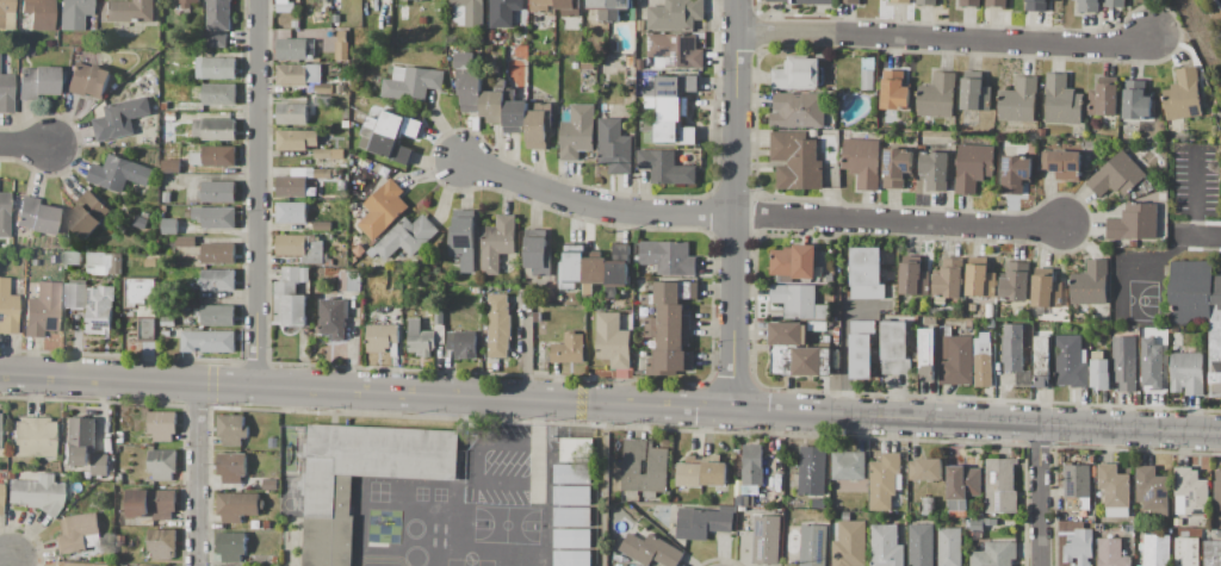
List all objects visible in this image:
building: (805, 1)
building: (850, 1)
building: (900, 1)
building: (926, 2)
building: (971, 2)
building: (997, 2)
building: (186, 4)
building: (1115, 4)
building: (1036, 5)
building: (285, 6)
building: (337, 6)
building: (544, 6)
building: (1089, 6)
building: (569, 7)
building: (601, 8)
building: (618, 8)
building: (5, 10)
building: (125, 11)
building: (401, 12)
building: (503, 12)
building: (39, 13)
building: (74, 13)
building: (467, 13)
building: (676, 14)
building: (422, 19)
building: (218, 21)
building: (296, 24)
building: (640, 25)
road: (946, 41)
building: (292, 49)
building: (336, 50)
building: (675, 51)
building: (822, 56)
building: (631, 62)
building: (575, 66)
building: (587, 66)
building: (327, 67)
building: (218, 68)
building: (299, 74)
building: (798, 74)
building: (869, 74)
building: (88, 81)
building: (37, 82)
building: (469, 82)
building: (413, 83)
building: (673, 86)
building: (323, 88)
building: (340, 88)
building: (895, 92)
building: (6, 93)
building: (218, 94)
building: (977, 95)
building: (938, 97)
building: (1104, 99)
building: (1183, 99)
building: (1019, 100)
building: (1062, 100)
building: (1136, 100)
building: (324, 101)
building: (494, 102)
building: (165, 106)
building: (665, 107)
building: (798, 110)
building: (293, 114)
building: (168, 117)
building: (182, 117)
building: (515, 117)
building: (120, 118)
building: (395, 125)
building: (215, 130)
building: (537, 130)
building: (577, 131)
building: (671, 131)
building: (297, 139)
road: (24, 145)
building: (385, 147)
building: (614, 147)
building: (323, 154)
building: (215, 156)
building: (797, 160)
building: (863, 162)
building: (1062, 164)
building: (974, 166)
building: (171, 167)
building: (665, 167)
building: (898, 167)
building: (935, 169)
building: (118, 174)
building: (323, 174)
building: (1016, 174)
building: (1117, 175)
building: (292, 187)
building: (217, 192)
road: (258, 193)
building: (166, 197)
road: (593, 203)
road: (733, 203)
building: (383, 210)
building: (187, 212)
building: (291, 212)
building: (5, 214)
building: (88, 214)
building: (36, 216)
building: (215, 217)
road: (897, 219)
building: (141, 223)
building: (1134, 223)
building: (176, 226)
building: (323, 226)
road: (1209, 231)
road: (1177, 236)
building: (407, 237)
building: (464, 240)
building: (185, 242)
building: (497, 243)
building: (4, 247)
building: (302, 248)
building: (538, 253)
building: (218, 254)
building: (669, 257)
building: (72, 259)
building: (794, 262)
building: (104, 263)
building: (619, 266)
building: (572, 268)
building: (594, 272)
building: (867, 274)
building: (915, 276)
building: (830, 278)
building: (949, 279)
building: (980, 279)
building: (217, 280)
building: (355, 282)
building: (1090, 284)
building: (1015, 286)
building: (1216, 290)
building: (1190, 291)
building: (1047, 292)
building: (671, 293)
building: (75, 294)
building: (291, 297)
building: (800, 301)
building: (143, 305)
building: (185, 306)
building: (7, 309)
building: (42, 310)
building: (100, 310)
building: (216, 315)
building: (450, 315)
building: (992, 315)
building: (439, 317)
building: (538, 317)
building: (333, 318)
building: (167, 321)
building: (929, 321)
building: (969, 324)
building: (498, 325)
building: (817, 326)
building: (668, 328)
building: (1165, 331)
building: (165, 334)
building: (382, 337)
building: (421, 338)
building: (613, 340)
building: (209, 342)
building: (463, 344)
road: (847, 344)
building: (895, 348)
building: (1014, 348)
building: (570, 349)
building: (862, 349)
building: (797, 352)
building: (1215, 352)
building: (928, 353)
building: (915, 357)
building: (955, 359)
building: (1042, 360)
building: (1071, 361)
building: (671, 362)
building: (1124, 362)
building: (983, 365)
building: (1151, 365)
building: (1101, 372)
building: (1188, 373)
building: (1023, 378)
road: (610, 404)
building: (162, 425)
building: (233, 429)
building: (23, 437)
building: (43, 437)
building: (119, 437)
building: (80, 442)
road: (540, 450)
building: (577, 450)
building: (1091, 460)
building: (162, 464)
building: (99, 465)
building: (752, 465)
building: (849, 465)
building: (233, 467)
building: (658, 467)
building: (925, 468)
building: (714, 471)
building: (812, 471)
building: (690, 472)
road: (197, 474)
building: (572, 474)
building: (10, 475)
building: (88, 475)
building: (885, 480)
building: (271, 484)
road: (608, 485)
building: (1000, 485)
building: (962, 487)
building: (1077, 487)
building: (1216, 489)
building: (748, 490)
building: (1115, 490)
building: (1152, 490)
building: (1190, 492)
building: (37, 493)
building: (1, 495)
building: (328, 495)
road: (1045, 495)
building: (572, 496)
building: (675, 499)
building: (744, 500)
building: (151, 503)
building: (929, 503)
building: (238, 505)
building: (729, 509)
building: (742, 509)
building: (1060, 516)
building: (572, 517)
building: (793, 521)
building: (991, 522)
building: (702, 523)
building: (975, 524)
building: (1129, 528)
building: (78, 533)
building: (572, 539)
building: (767, 540)
building: (162, 542)
building: (850, 543)
building: (813, 545)
building: (922, 545)
building: (887, 546)
building: (231, 547)
building: (950, 547)
building: (1079, 547)
building: (1157, 549)
building: (650, 551)
building: (1111, 552)
building: (1186, 552)
building: (1213, 553)
building: (994, 554)
building: (572, 558)
road: (5, 560)
building: (78, 564)
building: (1136, 565)

